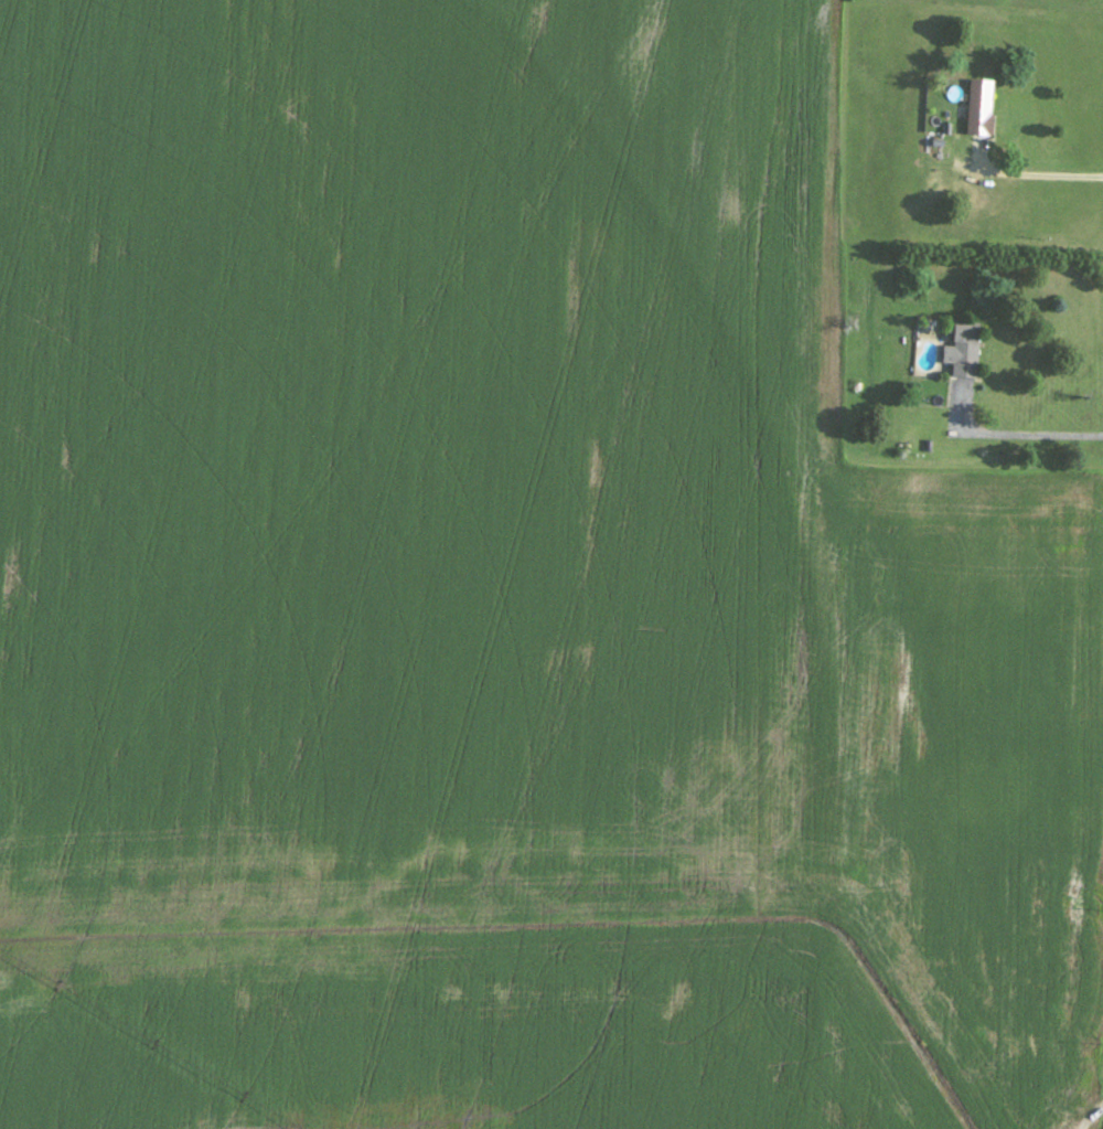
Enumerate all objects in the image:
road: (1032, 167)
road: (997, 433)

